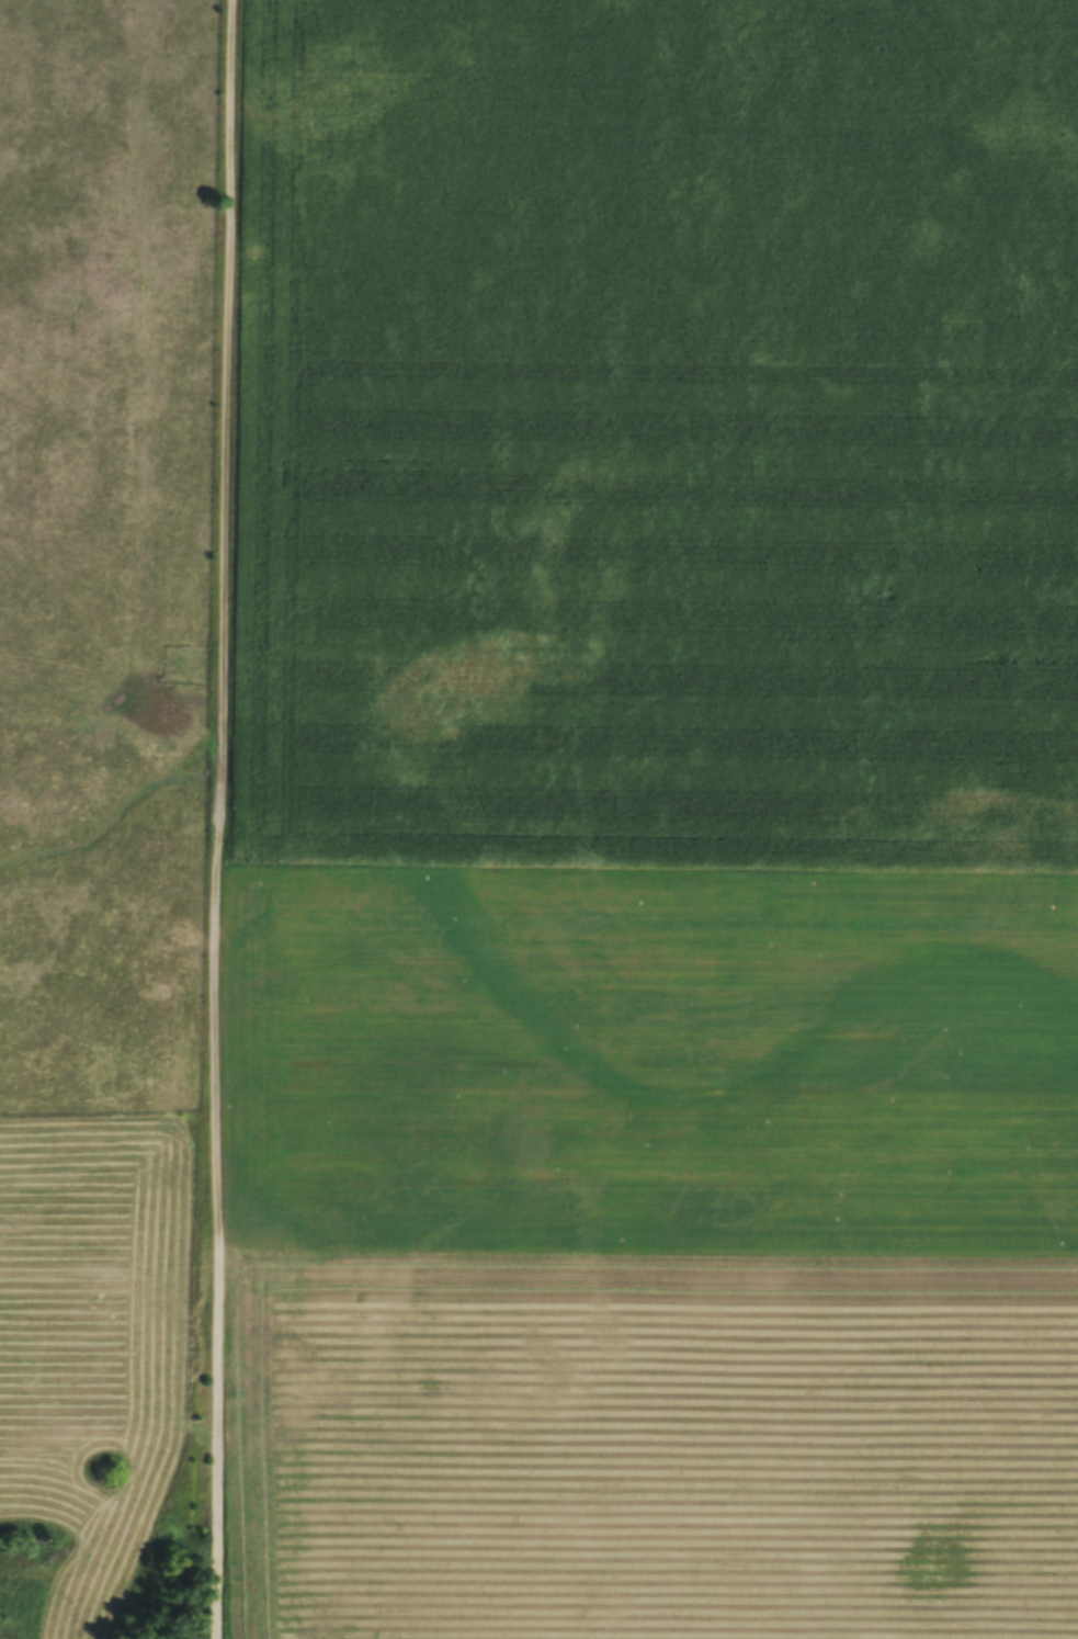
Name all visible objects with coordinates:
road: (226, 820)

